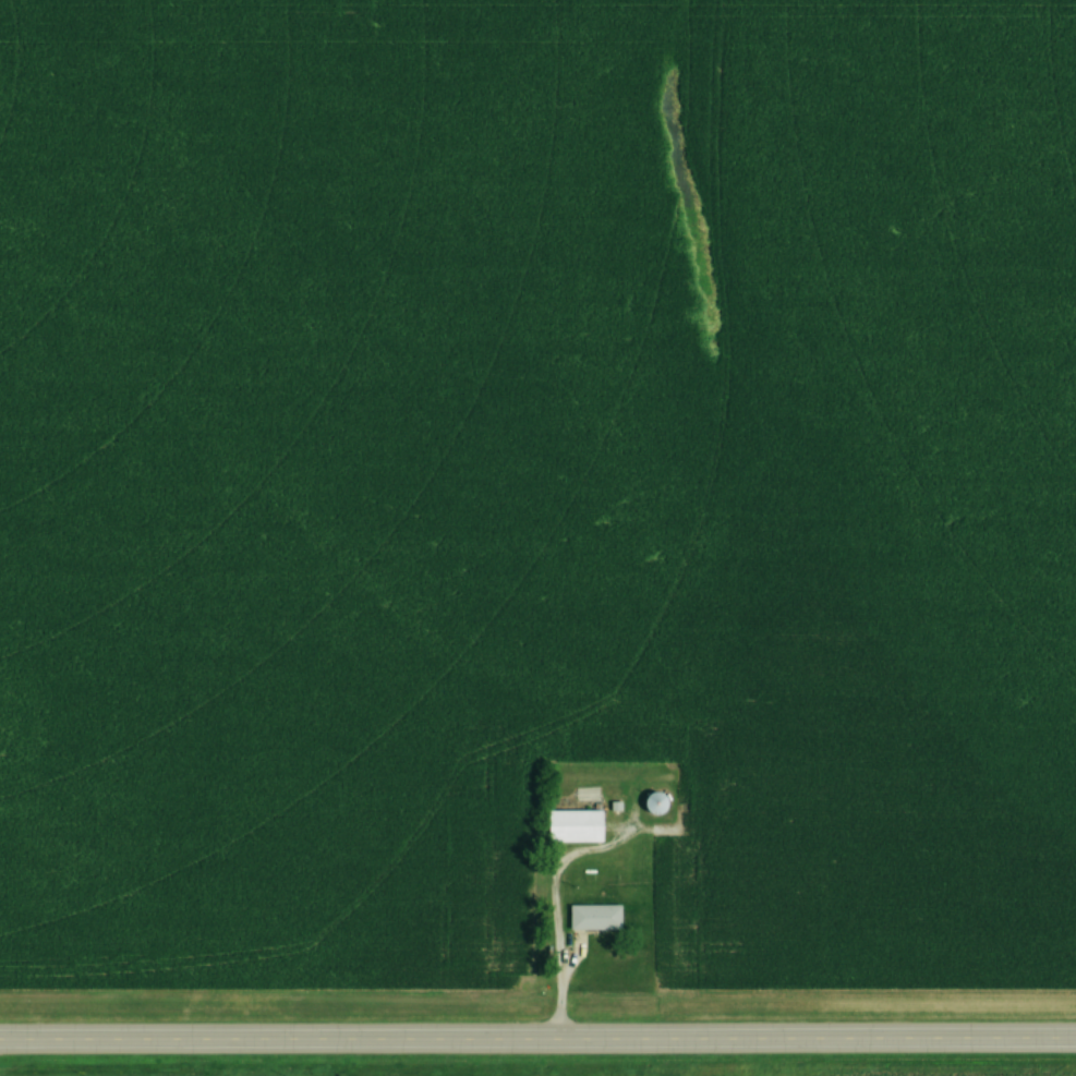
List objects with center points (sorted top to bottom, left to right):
building: (653, 806)
building: (572, 827)
building: (593, 919)
road: (537, 1043)

